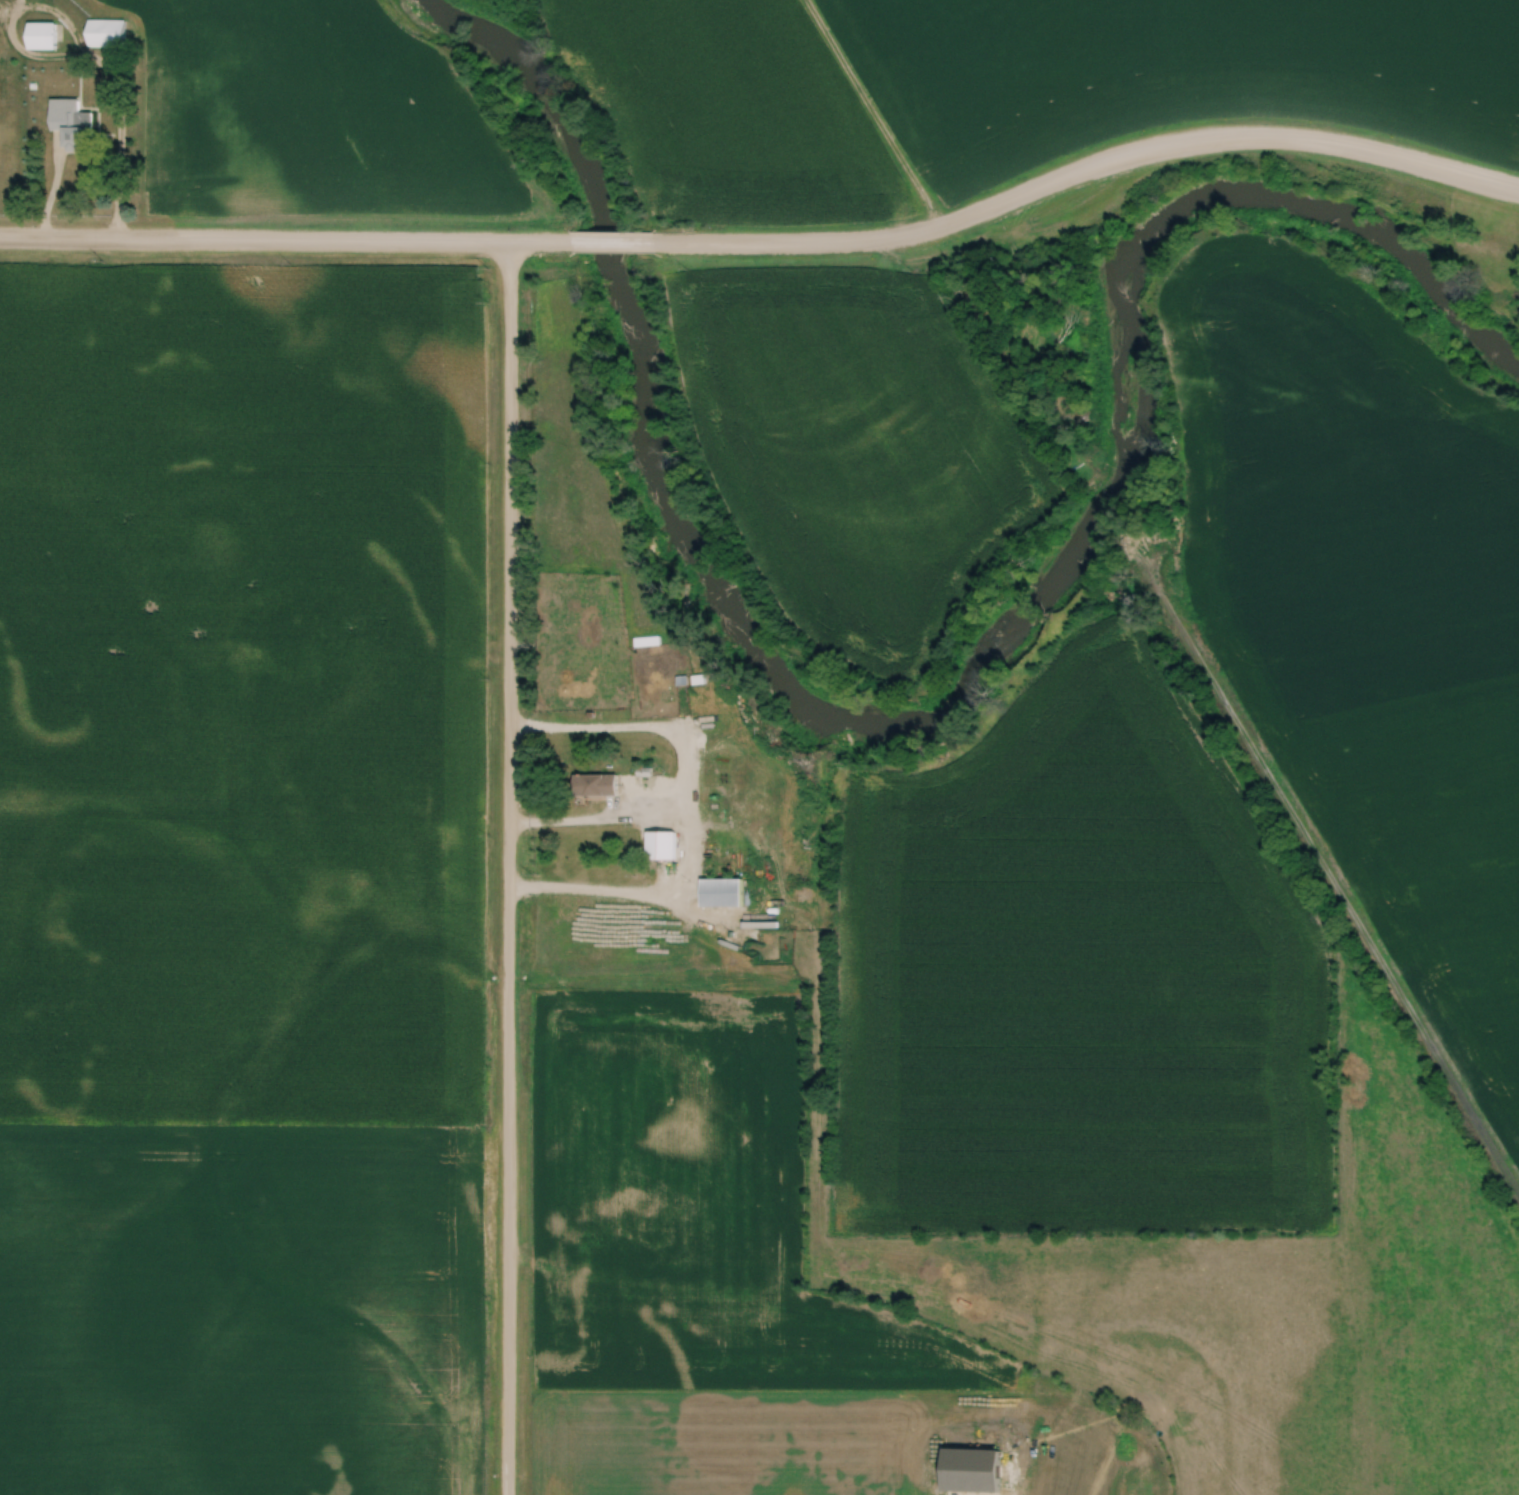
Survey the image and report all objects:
road: (6, 32)
building: (106, 33)
building: (41, 35)
building: (70, 129)
road: (118, 135)
road: (1087, 166)
road: (285, 242)
road: (615, 246)
river: (960, 700)
road: (629, 726)
building: (595, 783)
building: (661, 844)
road: (692, 848)
road: (514, 869)
building: (721, 891)

